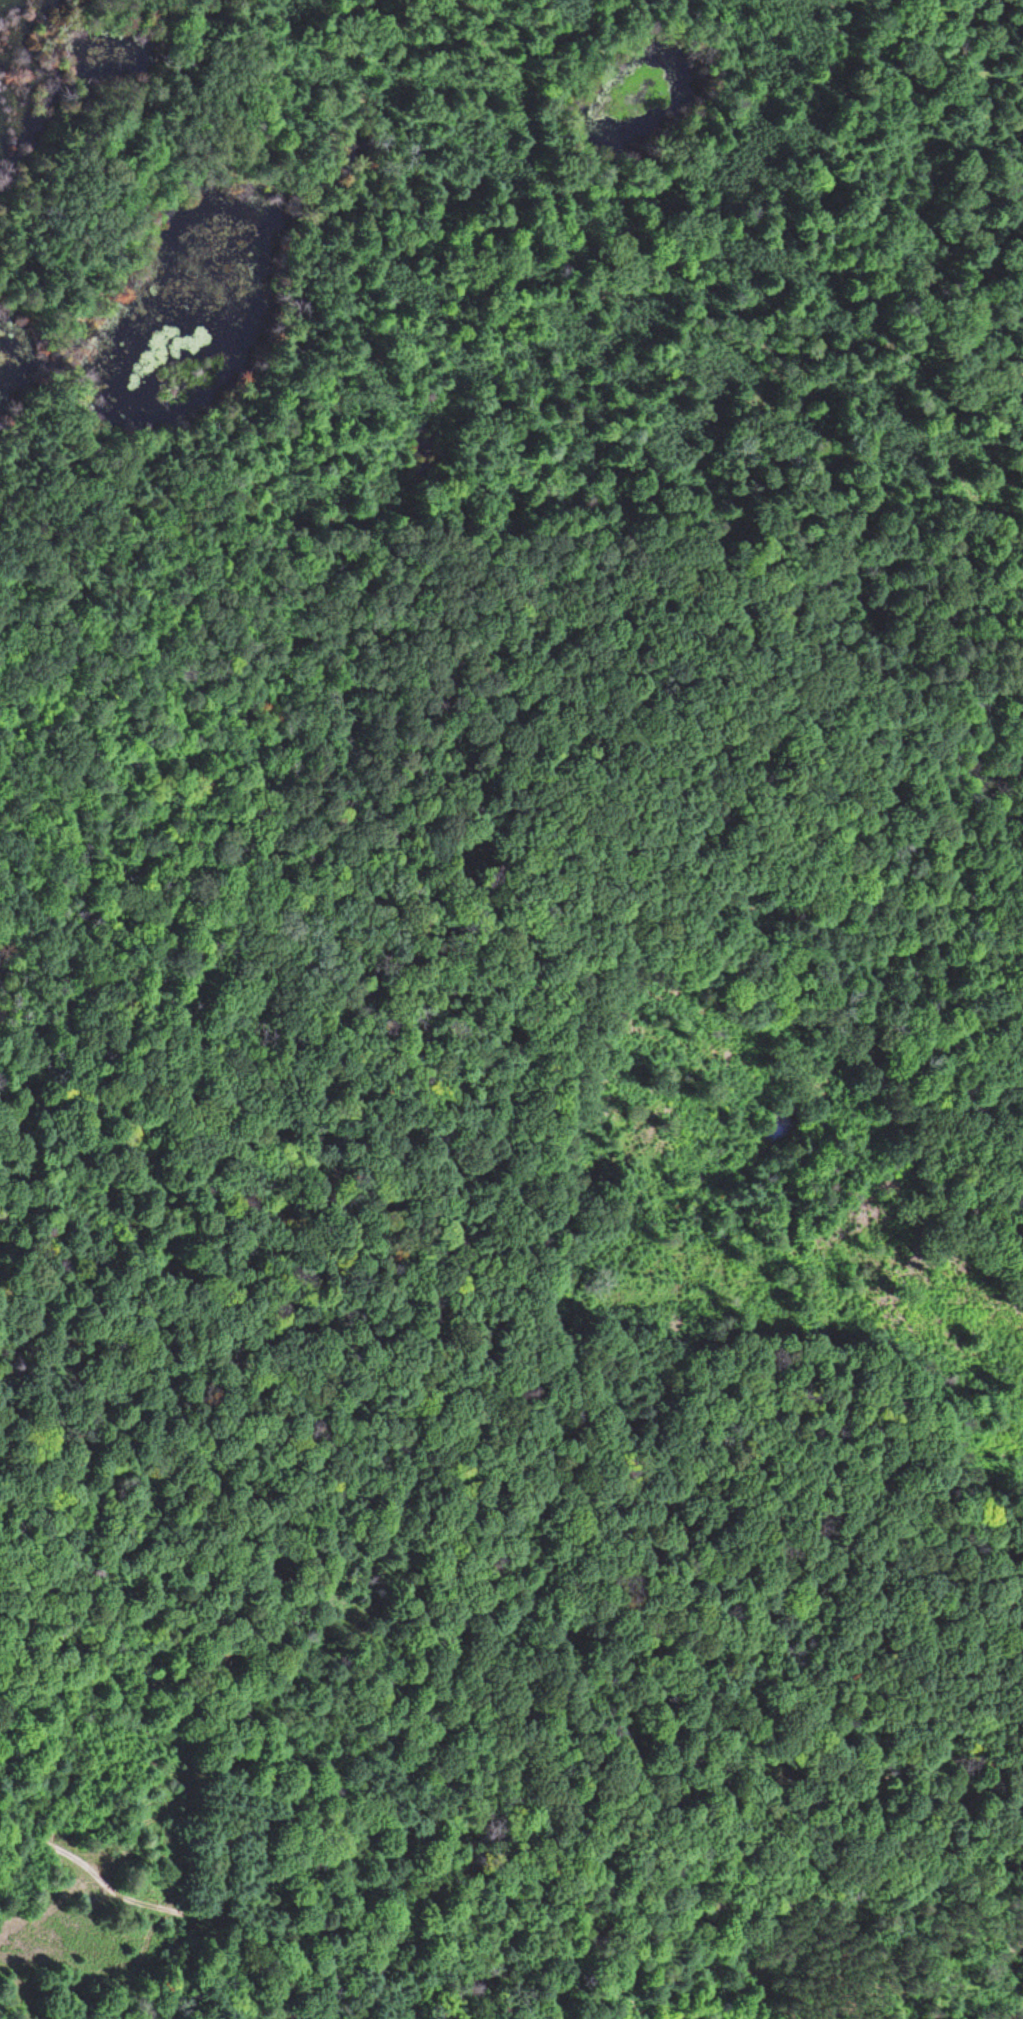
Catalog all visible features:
road: (192, 1911)

